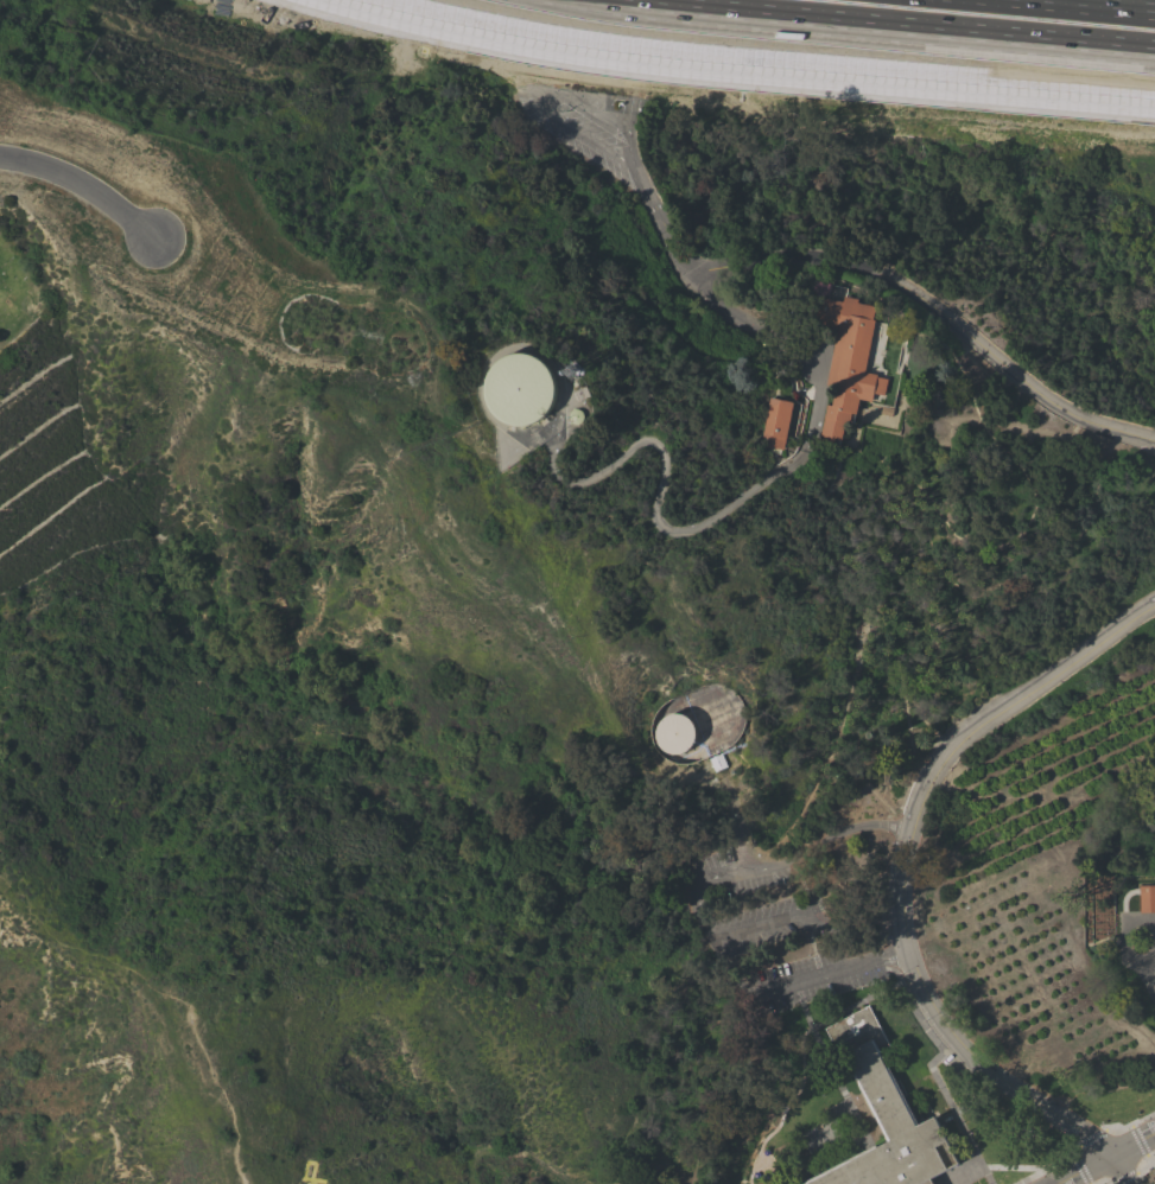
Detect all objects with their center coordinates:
road: (1055, 7)
railway: (935, 19)
road: (804, 37)
parking lot: (585, 125)
road: (81, 191)
park: (179, 249)
road: (888, 276)
building: (848, 359)
building: (521, 389)
storage tank: (521, 389)
building: (776, 424)
road: (741, 496)
building: (674, 733)
storage tank: (674, 733)
road: (880, 798)
road: (798, 814)
road: (736, 826)
road: (902, 885)
road: (1124, 896)
building: (1147, 898)
road: (808, 917)
road: (702, 922)
parking lot: (778, 935)
road: (1128, 941)
road: (1151, 972)
road: (1151, 989)
road: (853, 1006)
road: (929, 1067)
road: (834, 1076)
road: (224, 1100)
road: (976, 1105)
building: (884, 1115)
road: (946, 1118)
road: (1130, 1125)
street lamp: (1135, 1125)
road: (1089, 1138)
road: (1137, 1140)
road: (1131, 1142)
road: (508, 1156)
road: (1142, 1159)
road: (824, 1161)
road: (671, 1166)
road: (1047, 1166)
road: (998, 1167)
road: (1079, 1169)
road: (1080, 1169)
road: (1123, 1177)
road: (951, 1178)
road: (1100, 1179)

